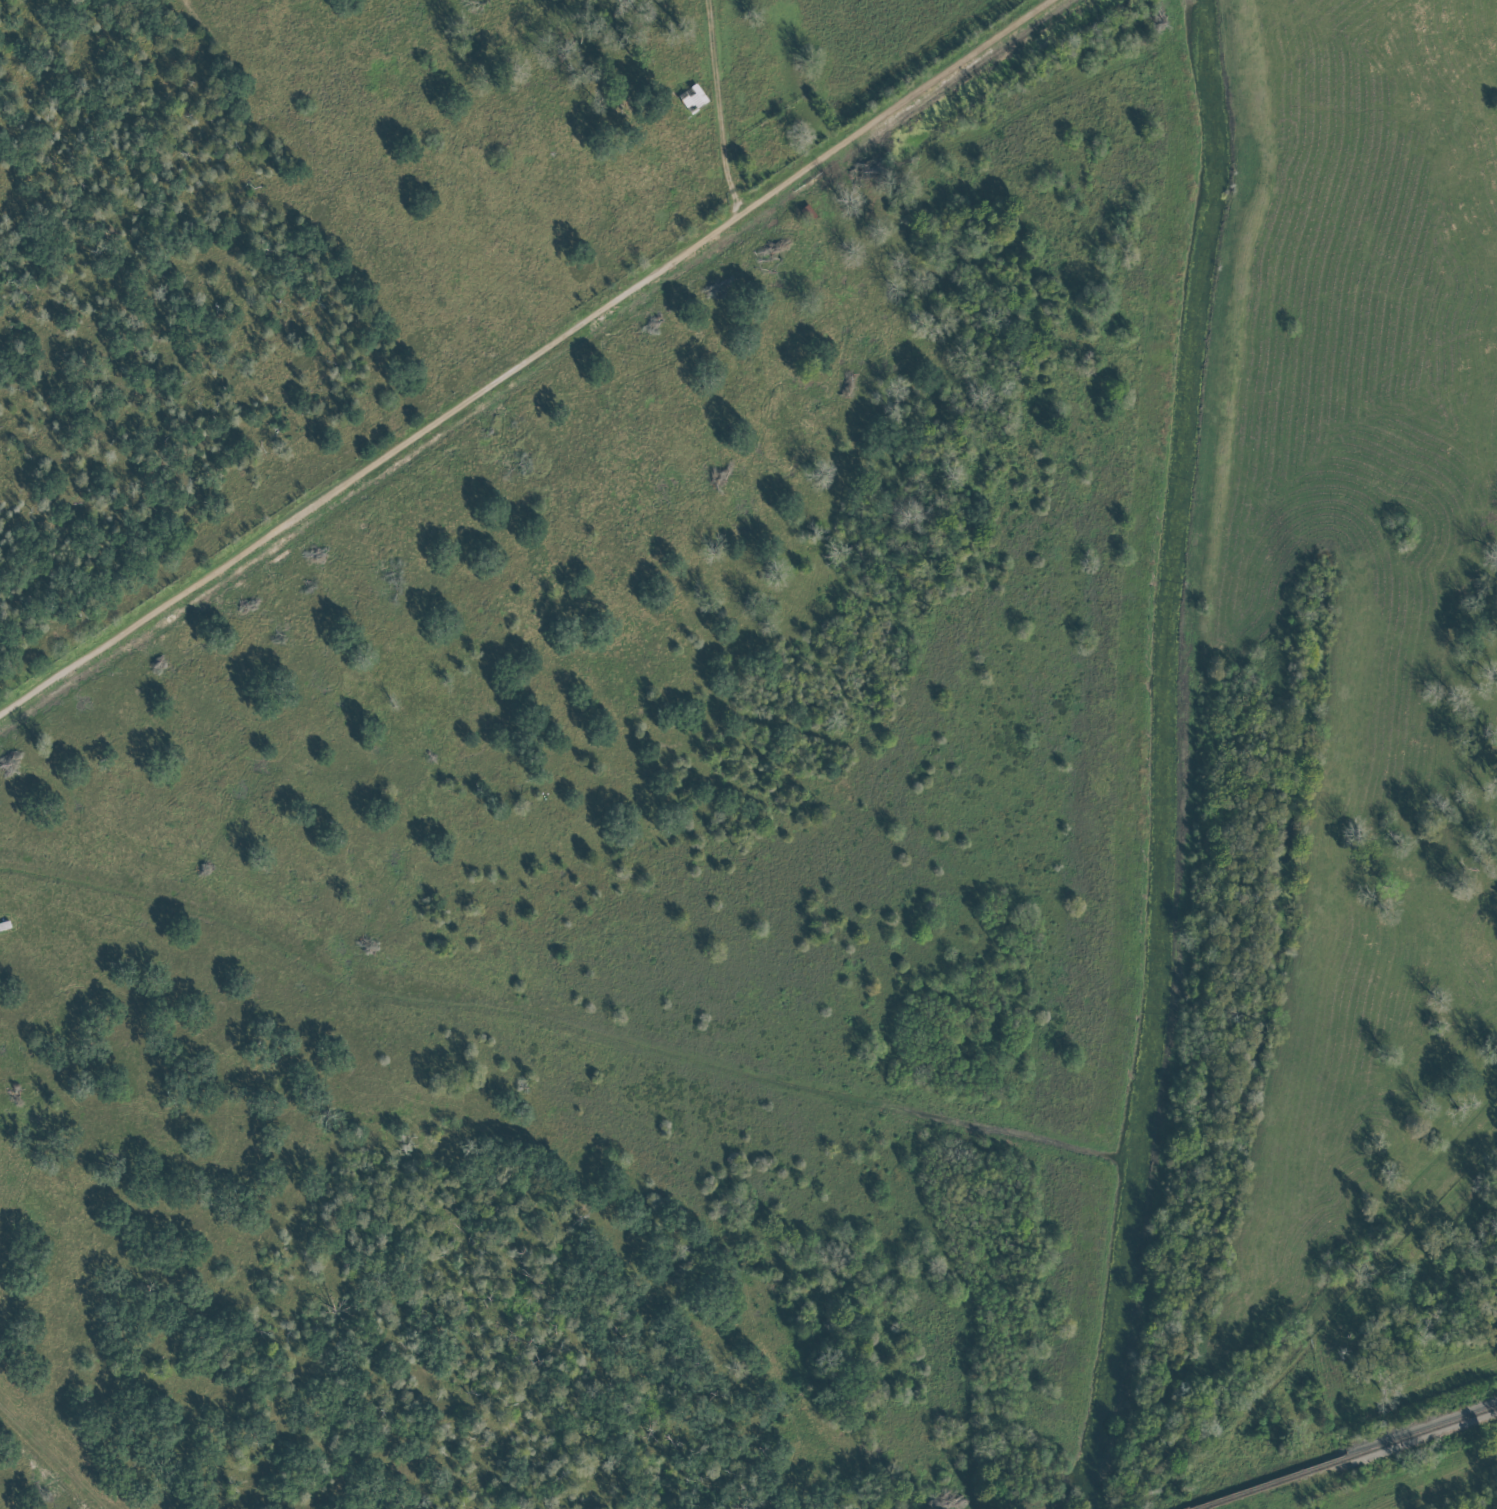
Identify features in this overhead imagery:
road: (723, 108)
road: (534, 363)
road: (1286, 1313)
railway: (1422, 1432)
road: (53, 1457)
railway: (1272, 1483)

